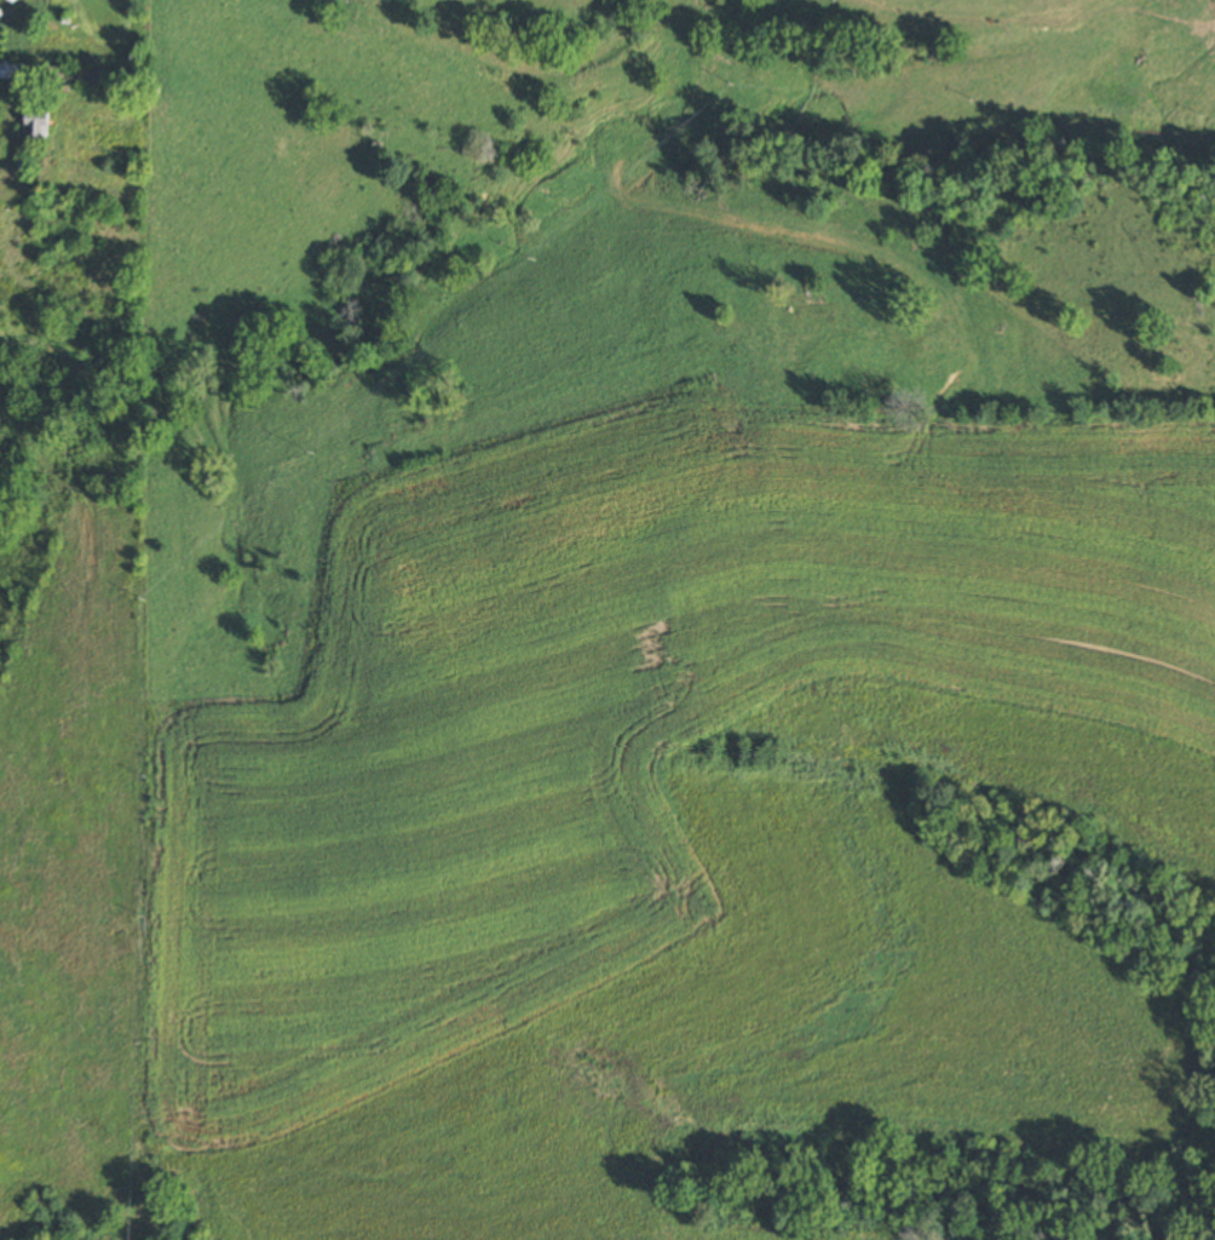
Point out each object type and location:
road: (486, 11)
building: (11, 70)
building: (73, 74)
road: (696, 103)
building: (36, 124)
building: (46, 202)
building: (733, 414)

